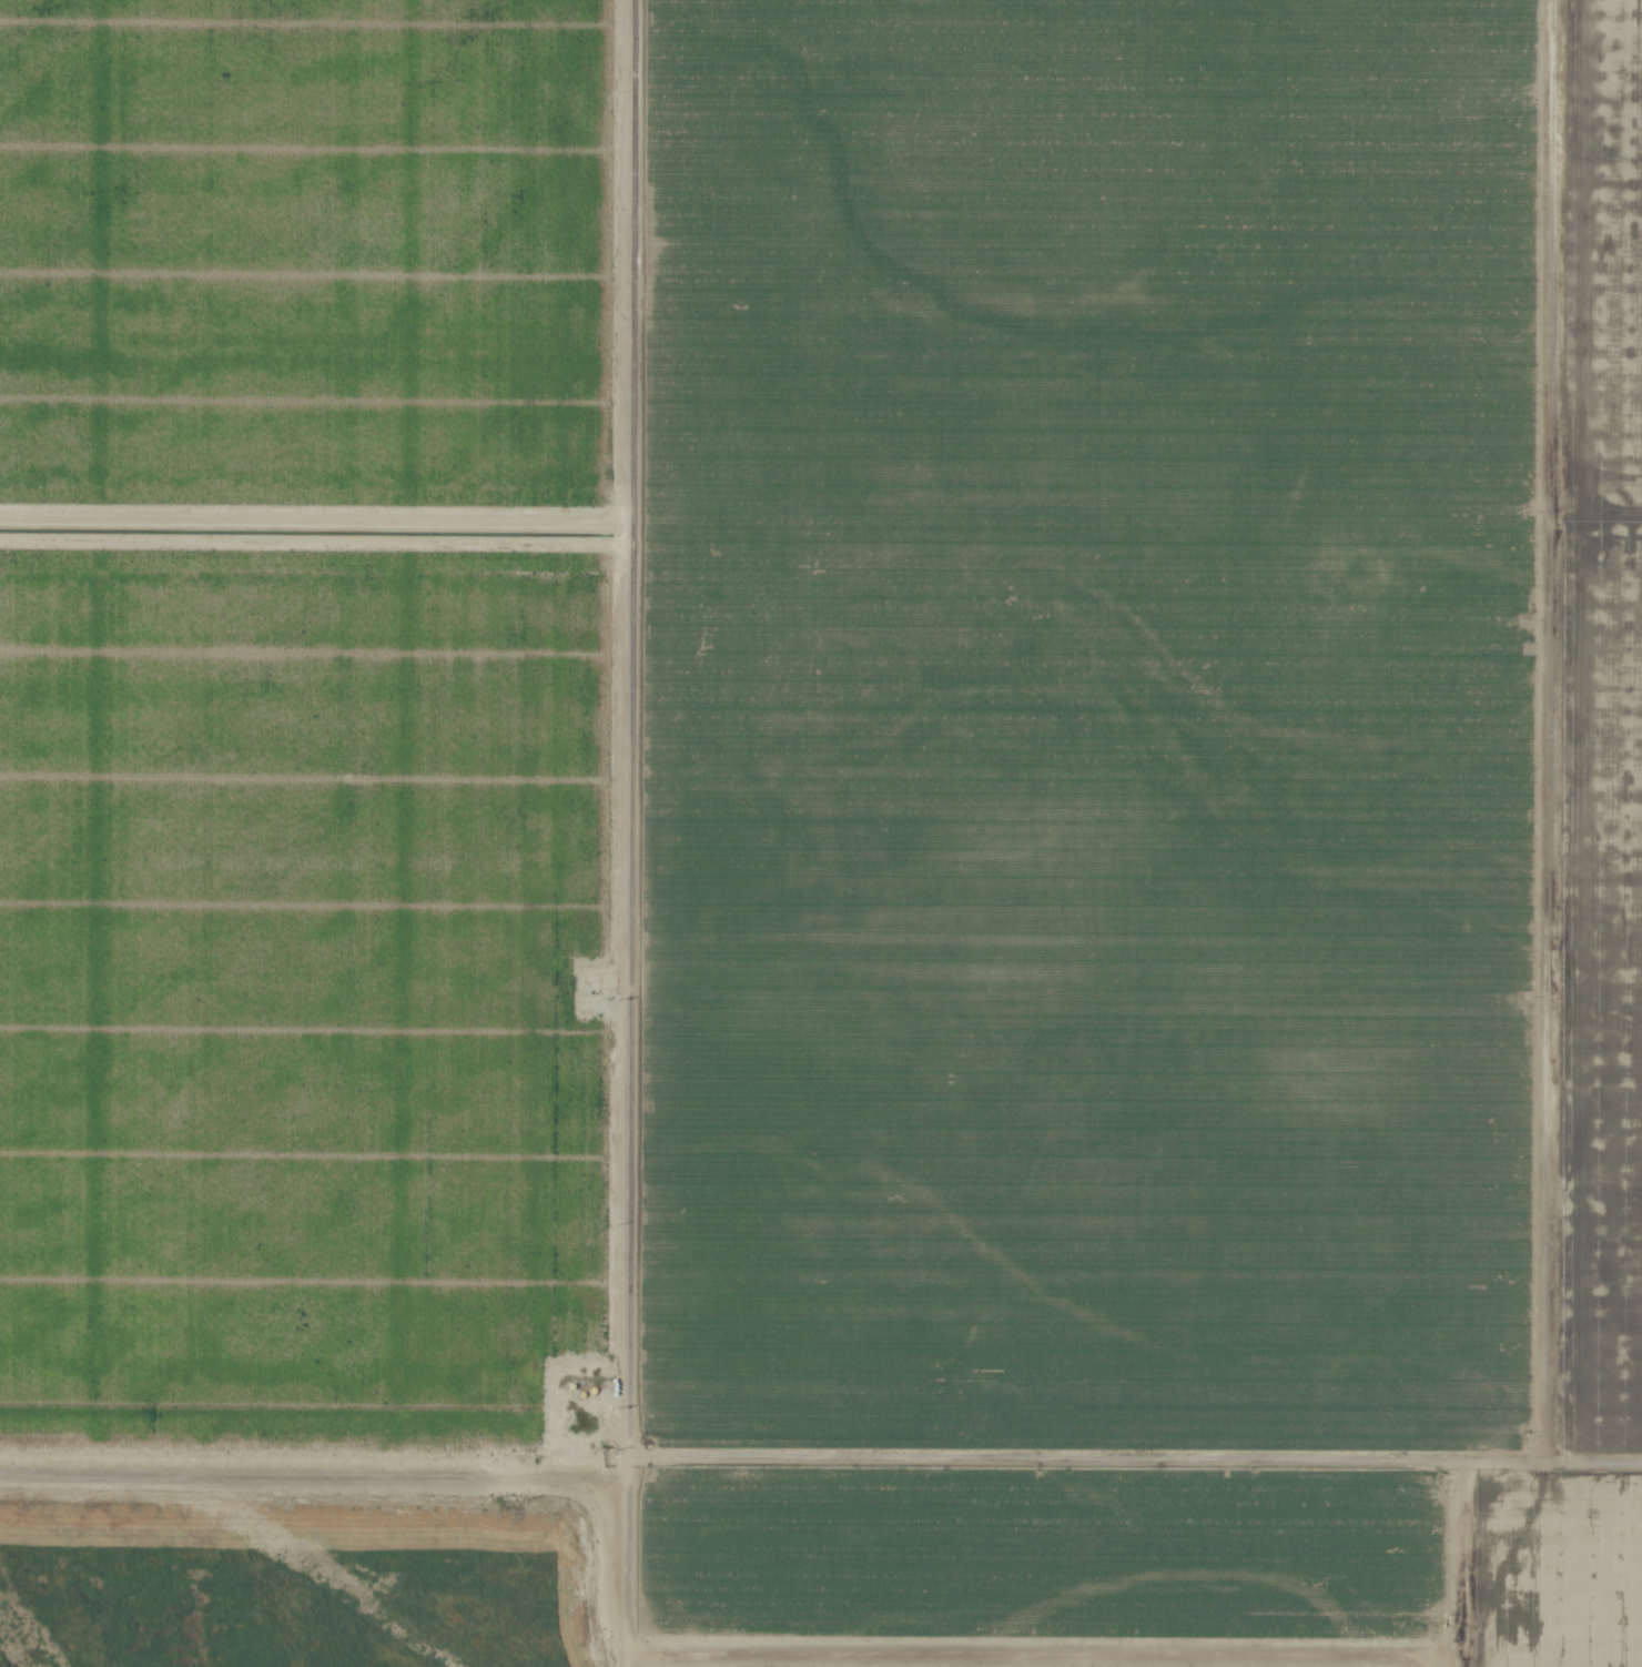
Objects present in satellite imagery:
crop: (843, 789)
road: (626, 832)
road: (821, 1447)
road: (1469, 1557)

